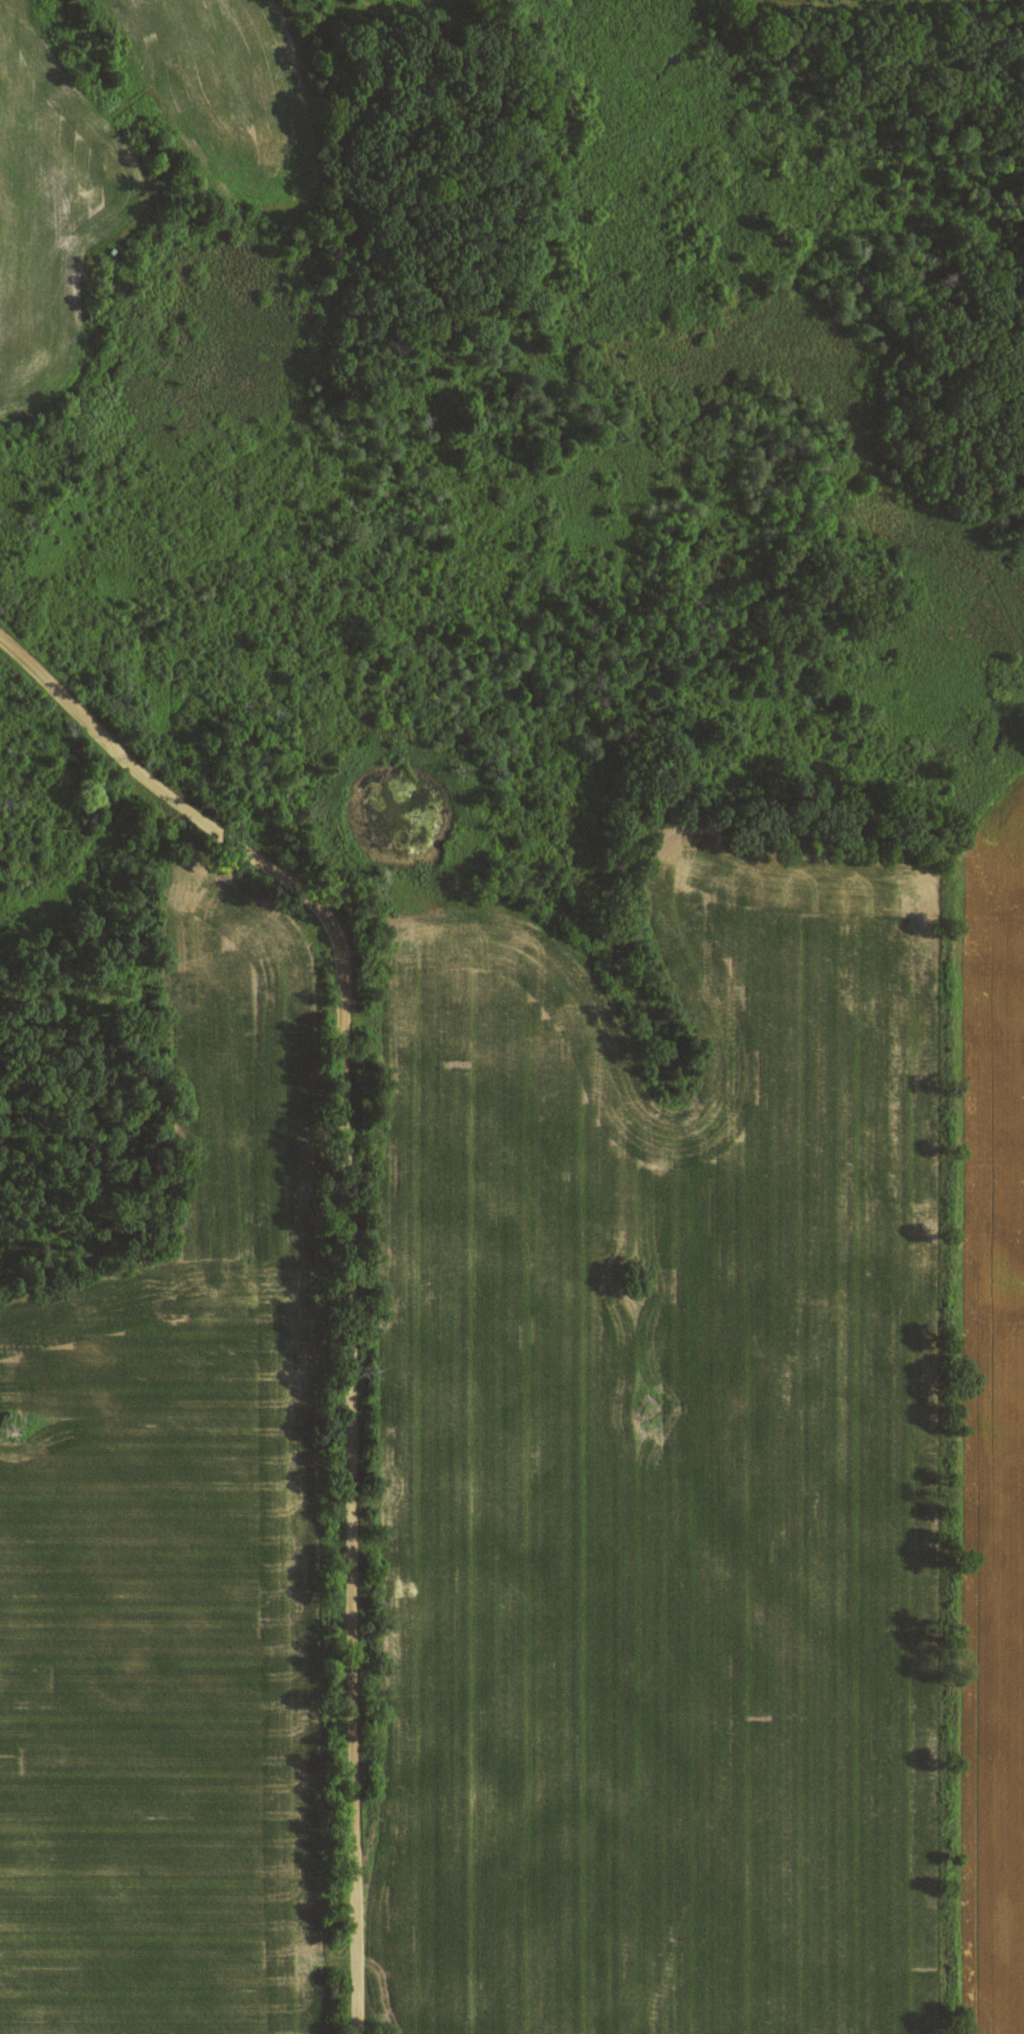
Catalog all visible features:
road: (349, 1256)

